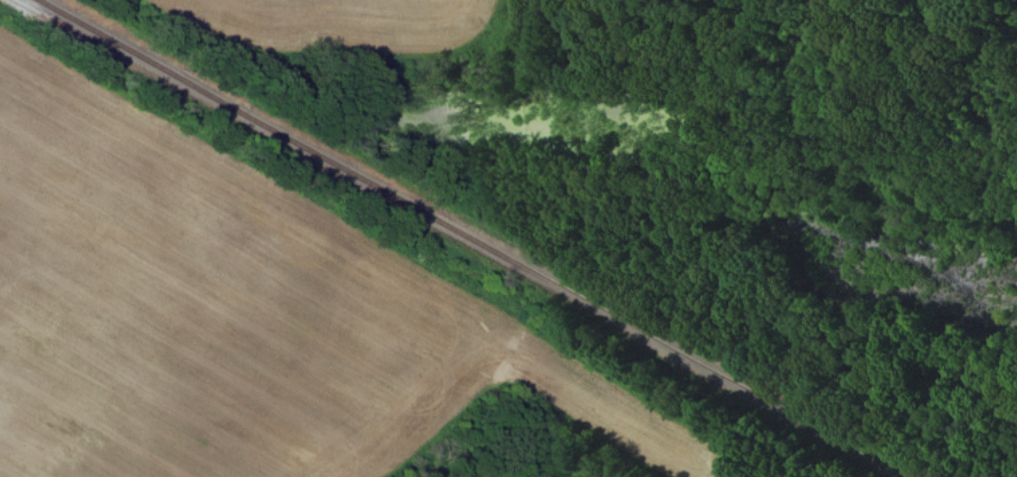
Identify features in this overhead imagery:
railway: (477, 238)

